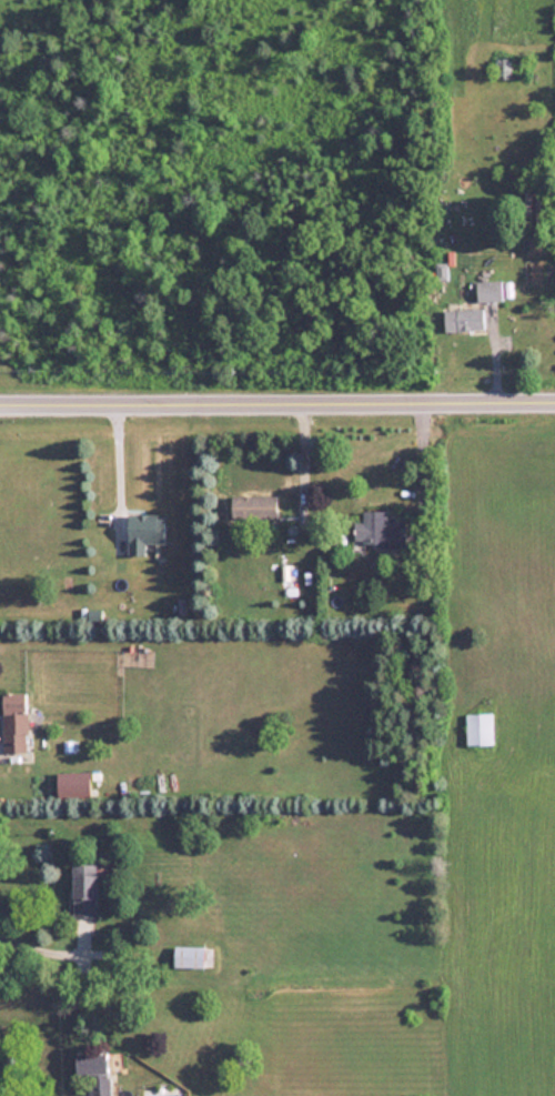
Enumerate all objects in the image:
building: (503, 68)
building: (490, 291)
building: (464, 320)
road: (277, 399)
road: (421, 457)
road: (118, 464)
building: (144, 531)
building: (379, 534)
building: (16, 723)
building: (477, 728)
building: (73, 784)
building: (83, 889)
road: (39, 952)
building: (188, 956)
building: (93, 1070)

